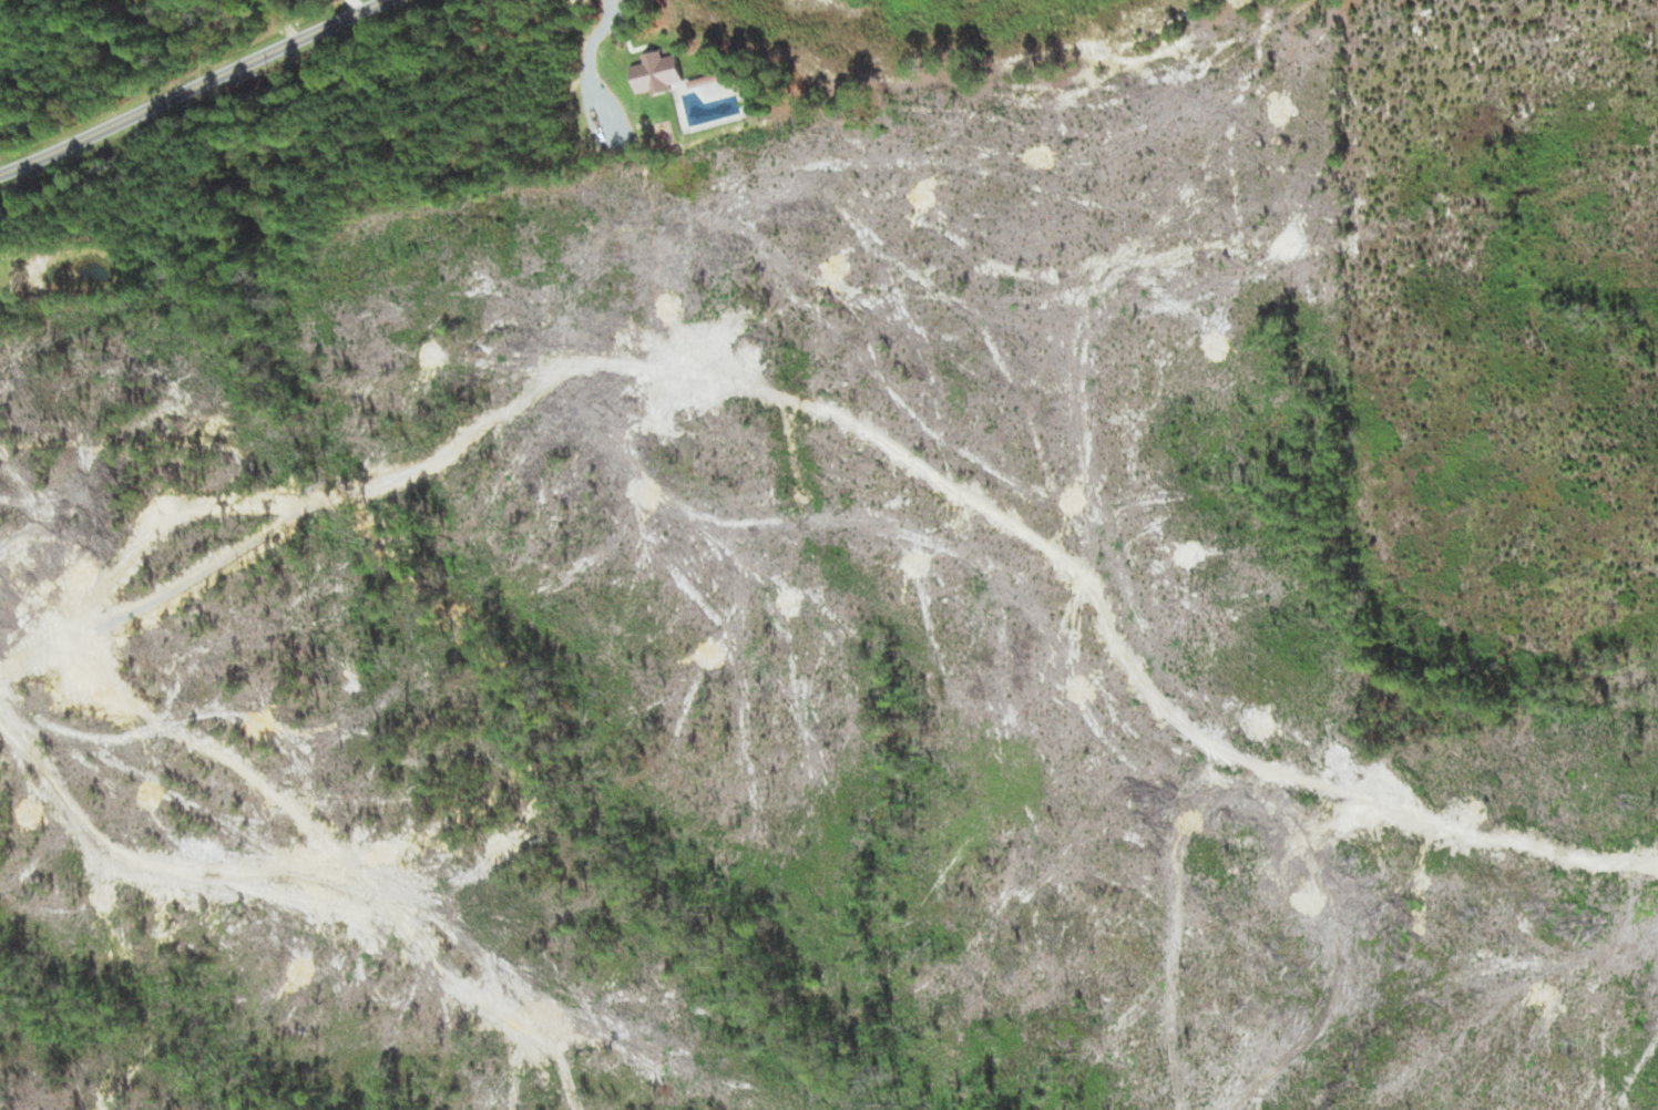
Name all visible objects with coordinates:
park: (966, 42)
building: (656, 72)
road: (190, 89)

